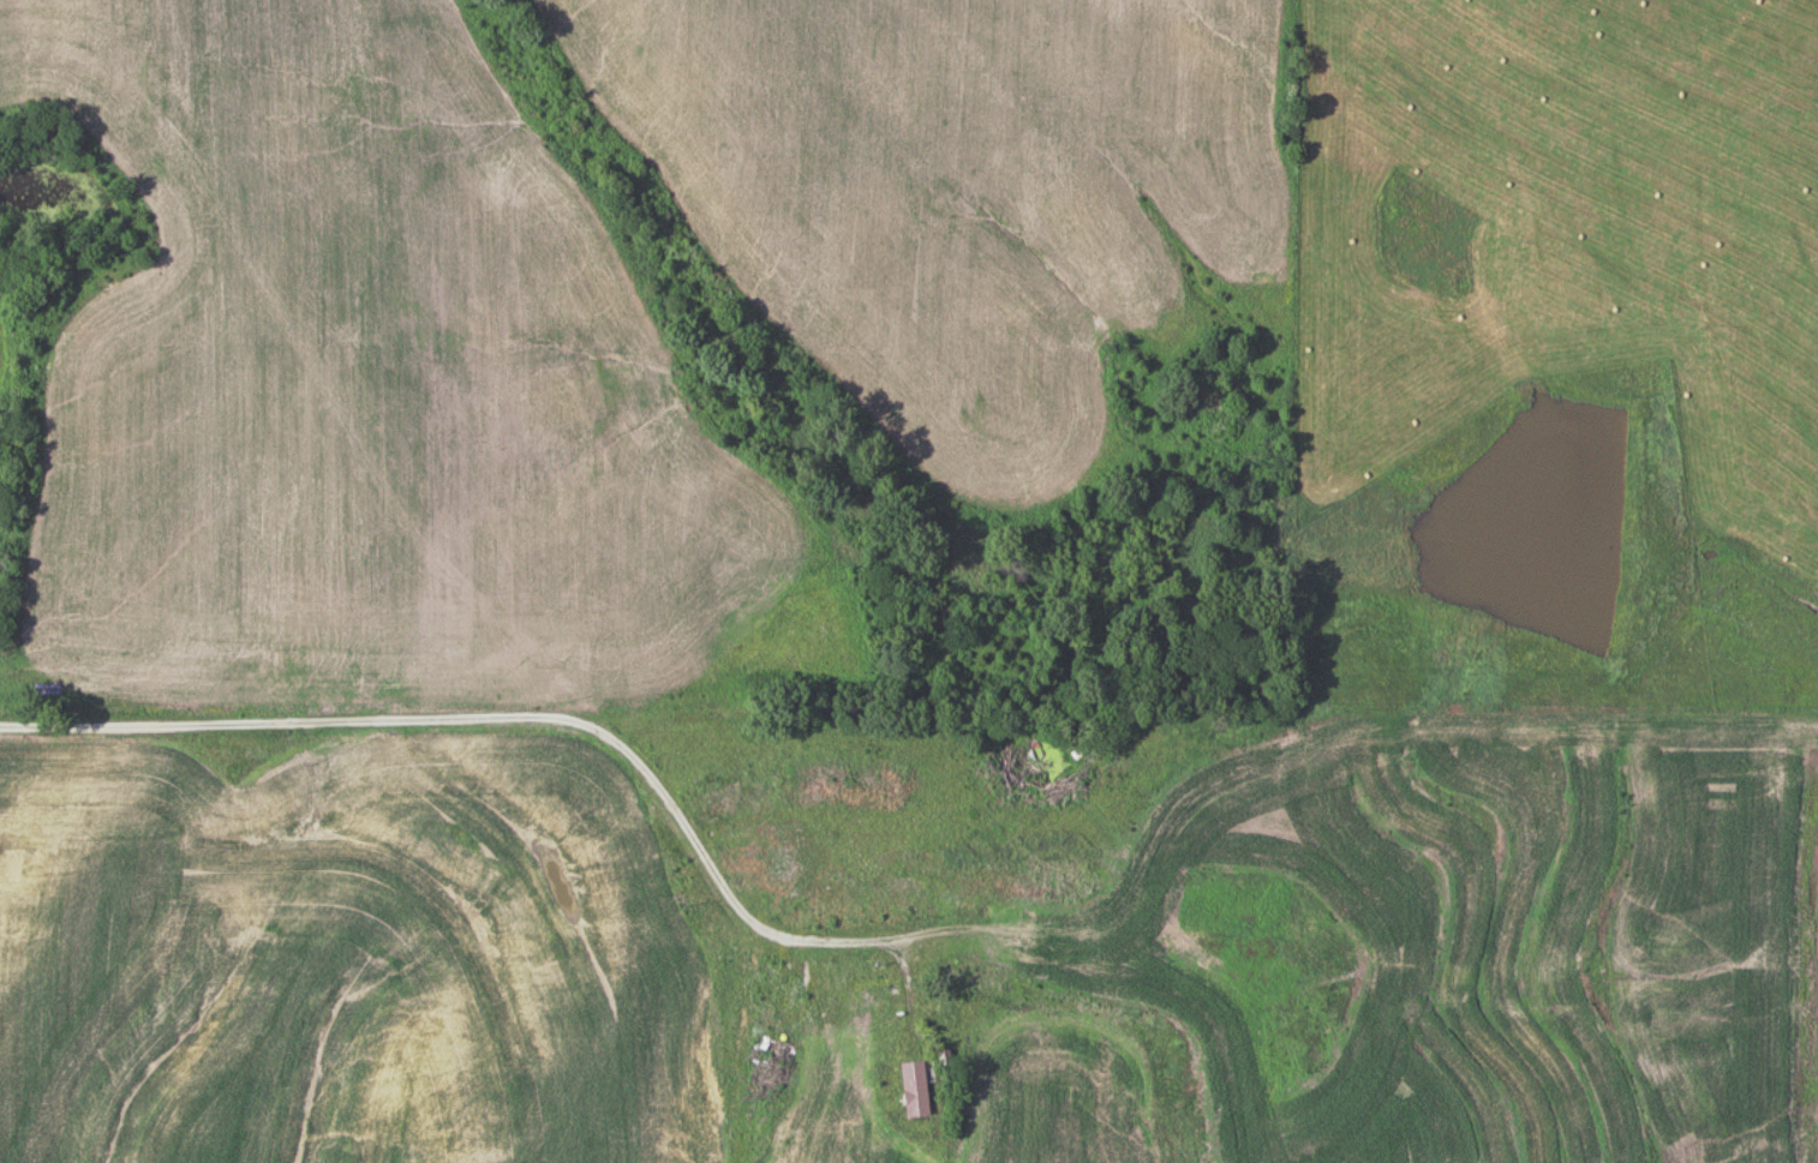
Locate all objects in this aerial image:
road: (459, 720)
building: (784, 864)
building: (899, 909)
building: (1227, 930)
building: (878, 1006)

